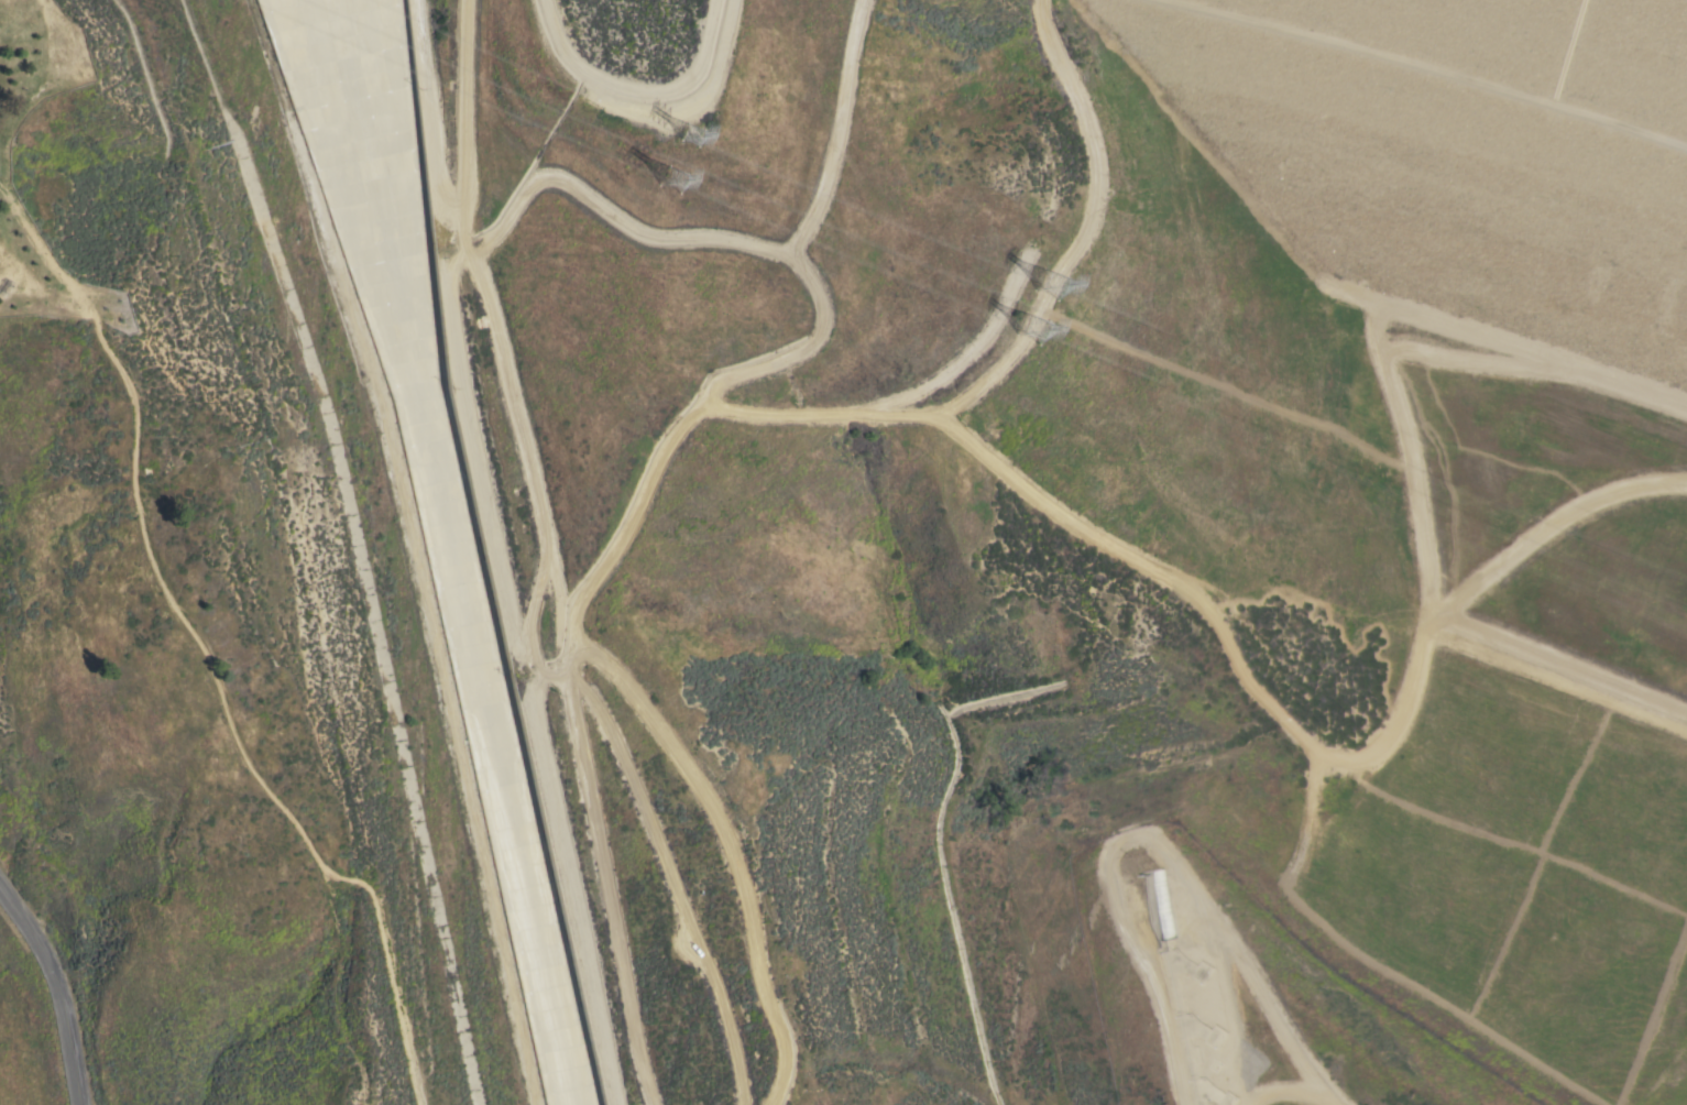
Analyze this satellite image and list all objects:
road: (42, 77)
power tower: (690, 136)
dam: (1455, 150)
power tower: (676, 184)
power tower: (1049, 286)
power tower: (1028, 330)
road: (199, 647)
park: (168, 655)
road: (58, 987)
building: (1193, 1025)

